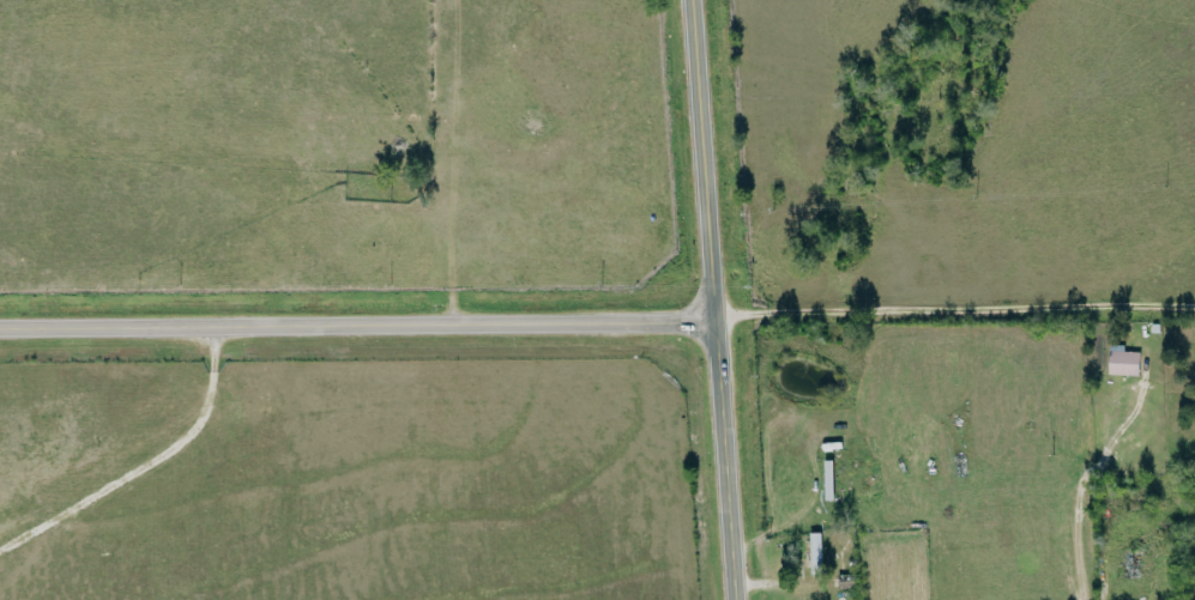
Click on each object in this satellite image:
road: (711, 299)
road: (356, 325)
building: (1123, 362)
building: (1130, 563)

